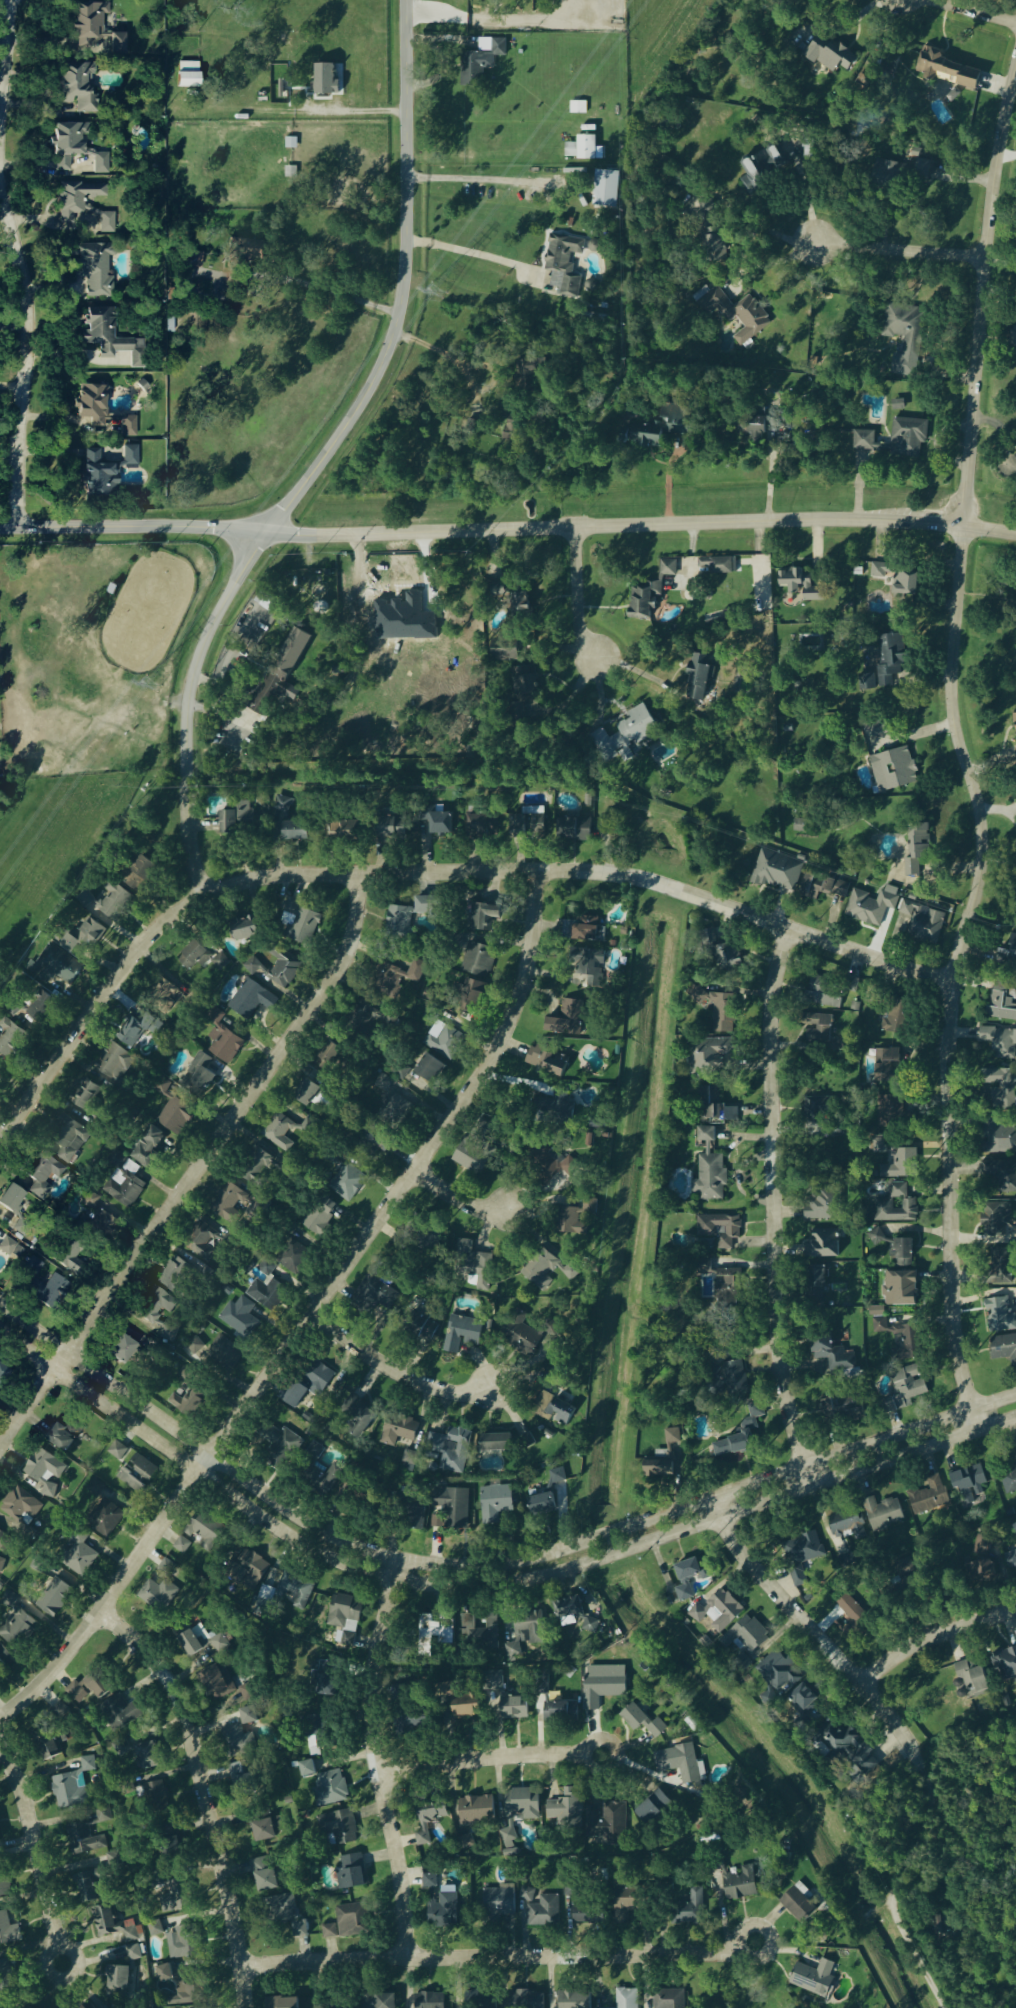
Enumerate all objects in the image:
road: (975, 11)
building: (94, 29)
building: (831, 55)
road: (5, 57)
building: (480, 62)
building: (946, 70)
building: (187, 75)
building: (326, 80)
building: (78, 87)
building: (66, 145)
building: (581, 149)
building: (916, 154)
building: (99, 163)
building: (928, 165)
building: (890, 173)
building: (751, 176)
road: (486, 180)
building: (607, 189)
building: (82, 210)
road: (769, 229)
building: (592, 247)
road: (898, 249)
road: (467, 250)
building: (246, 252)
building: (194, 260)
road: (772, 264)
building: (563, 265)
building: (93, 270)
road: (255, 276)
road: (408, 289)
road: (981, 291)
power tower: (434, 292)
building: (736, 314)
building: (109, 337)
road: (28, 338)
building: (905, 340)
building: (1014, 341)
road: (441, 351)
building: (897, 404)
building: (101, 413)
building: (678, 426)
building: (757, 427)
building: (511, 432)
building: (642, 436)
road: (936, 442)
building: (130, 455)
road: (768, 473)
building: (96, 475)
road: (16, 508)
road: (640, 522)
road: (132, 528)
building: (718, 565)
building: (899, 580)
building: (800, 585)
building: (649, 592)
road: (576, 594)
building: (519, 605)
building: (719, 617)
building: (506, 650)
building: (885, 663)
building: (280, 672)
building: (696, 678)
building: (524, 682)
power tower: (145, 685)
road: (184, 706)
building: (1015, 726)
building: (626, 735)
building: (893, 769)
building: (283, 804)
building: (236, 818)
building: (527, 822)
building: (442, 823)
building: (477, 824)
building: (799, 826)
building: (392, 828)
building: (573, 828)
building: (343, 829)
building: (296, 830)
building: (919, 841)
building: (911, 867)
road: (583, 871)
building: (777, 871)
building: (141, 874)
building: (912, 880)
building: (814, 883)
building: (836, 887)
building: (115, 903)
building: (428, 906)
building: (871, 906)
building: (400, 921)
building: (923, 921)
building: (303, 925)
building: (244, 928)
building: (583, 928)
building: (90, 936)
building: (1008, 953)
building: (727, 957)
building: (203, 959)
building: (478, 960)
building: (587, 968)
building: (284, 970)
building: (415, 971)
road: (952, 975)
building: (392, 981)
building: (165, 990)
building: (472, 990)
building: (824, 995)
building: (252, 1000)
building: (1002, 1002)
building: (41, 1007)
road: (92, 1007)
building: (722, 1012)
building: (567, 1019)
building: (898, 1019)
building: (818, 1028)
building: (10, 1038)
building: (999, 1042)
building: (224, 1044)
building: (618, 1049)
building: (713, 1055)
building: (330, 1056)
building: (547, 1060)
building: (116, 1064)
building: (888, 1064)
building: (197, 1070)
building: (1002, 1087)
building: (307, 1092)
building: (86, 1095)
building: (393, 1098)
building: (564, 1108)
building: (715, 1108)
building: (891, 1109)
building: (174, 1116)
building: (284, 1132)
building: (706, 1134)
building: (69, 1138)
building: (999, 1138)
building: (148, 1147)
building: (897, 1158)
building: (471, 1159)
building: (255, 1167)
road: (199, 1168)
building: (43, 1175)
building: (709, 1177)
building: (1005, 1177)
building: (347, 1182)
building: (124, 1185)
building: (898, 1190)
building: (10, 1198)
road: (456, 1201)
building: (231, 1202)
building: (590, 1206)
road: (774, 1208)
building: (821, 1208)
building: (894, 1211)
building: (320, 1218)
building: (95, 1220)
building: (996, 1220)
building: (574, 1227)
building: (719, 1231)
building: (824, 1244)
building: (12, 1251)
building: (904, 1253)
building: (68, 1256)
building: (294, 1258)
building: (1001, 1266)
building: (266, 1267)
building: (540, 1269)
building: (478, 1270)
building: (174, 1275)
building: (819, 1283)
building: (727, 1285)
building: (900, 1289)
building: (382, 1292)
building: (266, 1294)
building: (155, 1307)
road: (309, 1316)
building: (999, 1316)
building: (239, 1317)
building: (461, 1333)
building: (533, 1336)
building: (899, 1338)
building: (121, 1349)
building: (1004, 1349)
building: (218, 1352)
building: (834, 1356)
road: (394, 1368)
building: (4, 1372)
building: (731, 1375)
building: (308, 1386)
building: (906, 1388)
building: (187, 1400)
building: (836, 1407)
building: (559, 1411)
building: (358, 1419)
building: (749, 1426)
building: (398, 1431)
building: (72, 1433)
building: (59, 1438)
building: (495, 1443)
building: (281, 1447)
building: (449, 1449)
building: (117, 1451)
building: (665, 1457)
building: (408, 1461)
building: (43, 1472)
building: (137, 1475)
building: (557, 1476)
building: (969, 1480)
building: (330, 1481)
building: (1009, 1482)
building: (928, 1497)
building: (494, 1503)
building: (541, 1503)
building: (19, 1508)
building: (455, 1509)
building: (884, 1514)
building: (105, 1519)
building: (436, 1522)
building: (1014, 1523)
building: (205, 1530)
building: (3, 1541)
building: (801, 1555)
building: (80, 1558)
building: (1011, 1560)
building: (1, 1564)
building: (37, 1566)
road: (482, 1567)
building: (252, 1568)
building: (985, 1568)
building: (687, 1579)
road: (483, 1588)
building: (293, 1590)
building: (157, 1595)
building: (54, 1598)
building: (577, 1616)
building: (851, 1617)
building: (344, 1619)
building: (18, 1630)
building: (478, 1632)
building: (525, 1633)
road: (817, 1633)
building: (432, 1634)
road: (934, 1638)
building: (746, 1640)
building: (201, 1644)
building: (1006, 1663)
building: (0, 1664)
building: (776, 1677)
building: (326, 1679)
building: (970, 1679)
building: (602, 1685)
building: (88, 1689)
building: (806, 1704)
building: (466, 1707)
building: (512, 1707)
building: (560, 1710)
building: (122, 1712)
building: (248, 1717)
building: (642, 1722)
building: (241, 1741)
building: (315, 1744)
road: (588, 1747)
building: (849, 1747)
building: (49, 1750)
building: (146, 1756)
road: (369, 1759)
road: (478, 1761)
building: (680, 1764)
building: (87, 1765)
building: (307, 1769)
building: (240, 1776)
building: (330, 1789)
building: (69, 1791)
road: (203, 1793)
building: (156, 1794)
building: (522, 1805)
building: (654, 1809)
building: (476, 1811)
building: (566, 1811)
building: (428, 1820)
building: (607, 1823)
building: (338, 1827)
building: (267, 1830)
road: (918, 1834)
building: (86, 1839)
building: (508, 1842)
road: (29, 1843)
building: (113, 1860)
building: (350, 1874)
building: (264, 1875)
building: (740, 1885)
building: (89, 1887)
building: (498, 1902)
road: (885, 1902)
building: (439, 1903)
building: (799, 1904)
building: (626, 1905)
building: (539, 1908)
building: (689, 1909)
building: (287, 1913)
building: (585, 1915)
building: (351, 1921)
building: (115, 1926)
building: (8, 1931)
building: (156, 1931)
building: (329, 1932)
building: (181, 1943)
road: (44, 1951)
road: (491, 1957)
road: (755, 1957)
building: (6, 1973)
building: (814, 1978)
building: (177, 1991)
building: (625, 1998)
building: (668, 1999)
building: (524, 2000)
building: (573, 2000)
building: (379, 2001)
building: (428, 2001)
building: (282, 2003)
building: (98, 2006)

